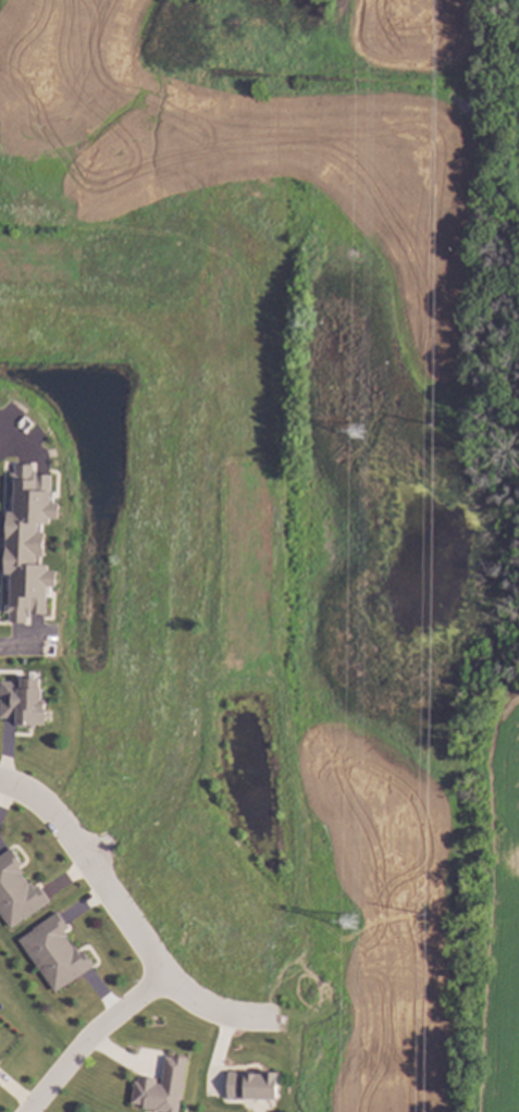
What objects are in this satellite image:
power tower: (356, 423)
road: (4, 441)
building: (28, 542)
power tower: (354, 615)
building: (24, 702)
building: (17, 890)
crop: (495, 914)
power tower: (349, 922)
road: (139, 935)
building: (57, 952)
road: (97, 1039)
building: (0, 1063)
building: (248, 1086)
building: (158, 1088)

